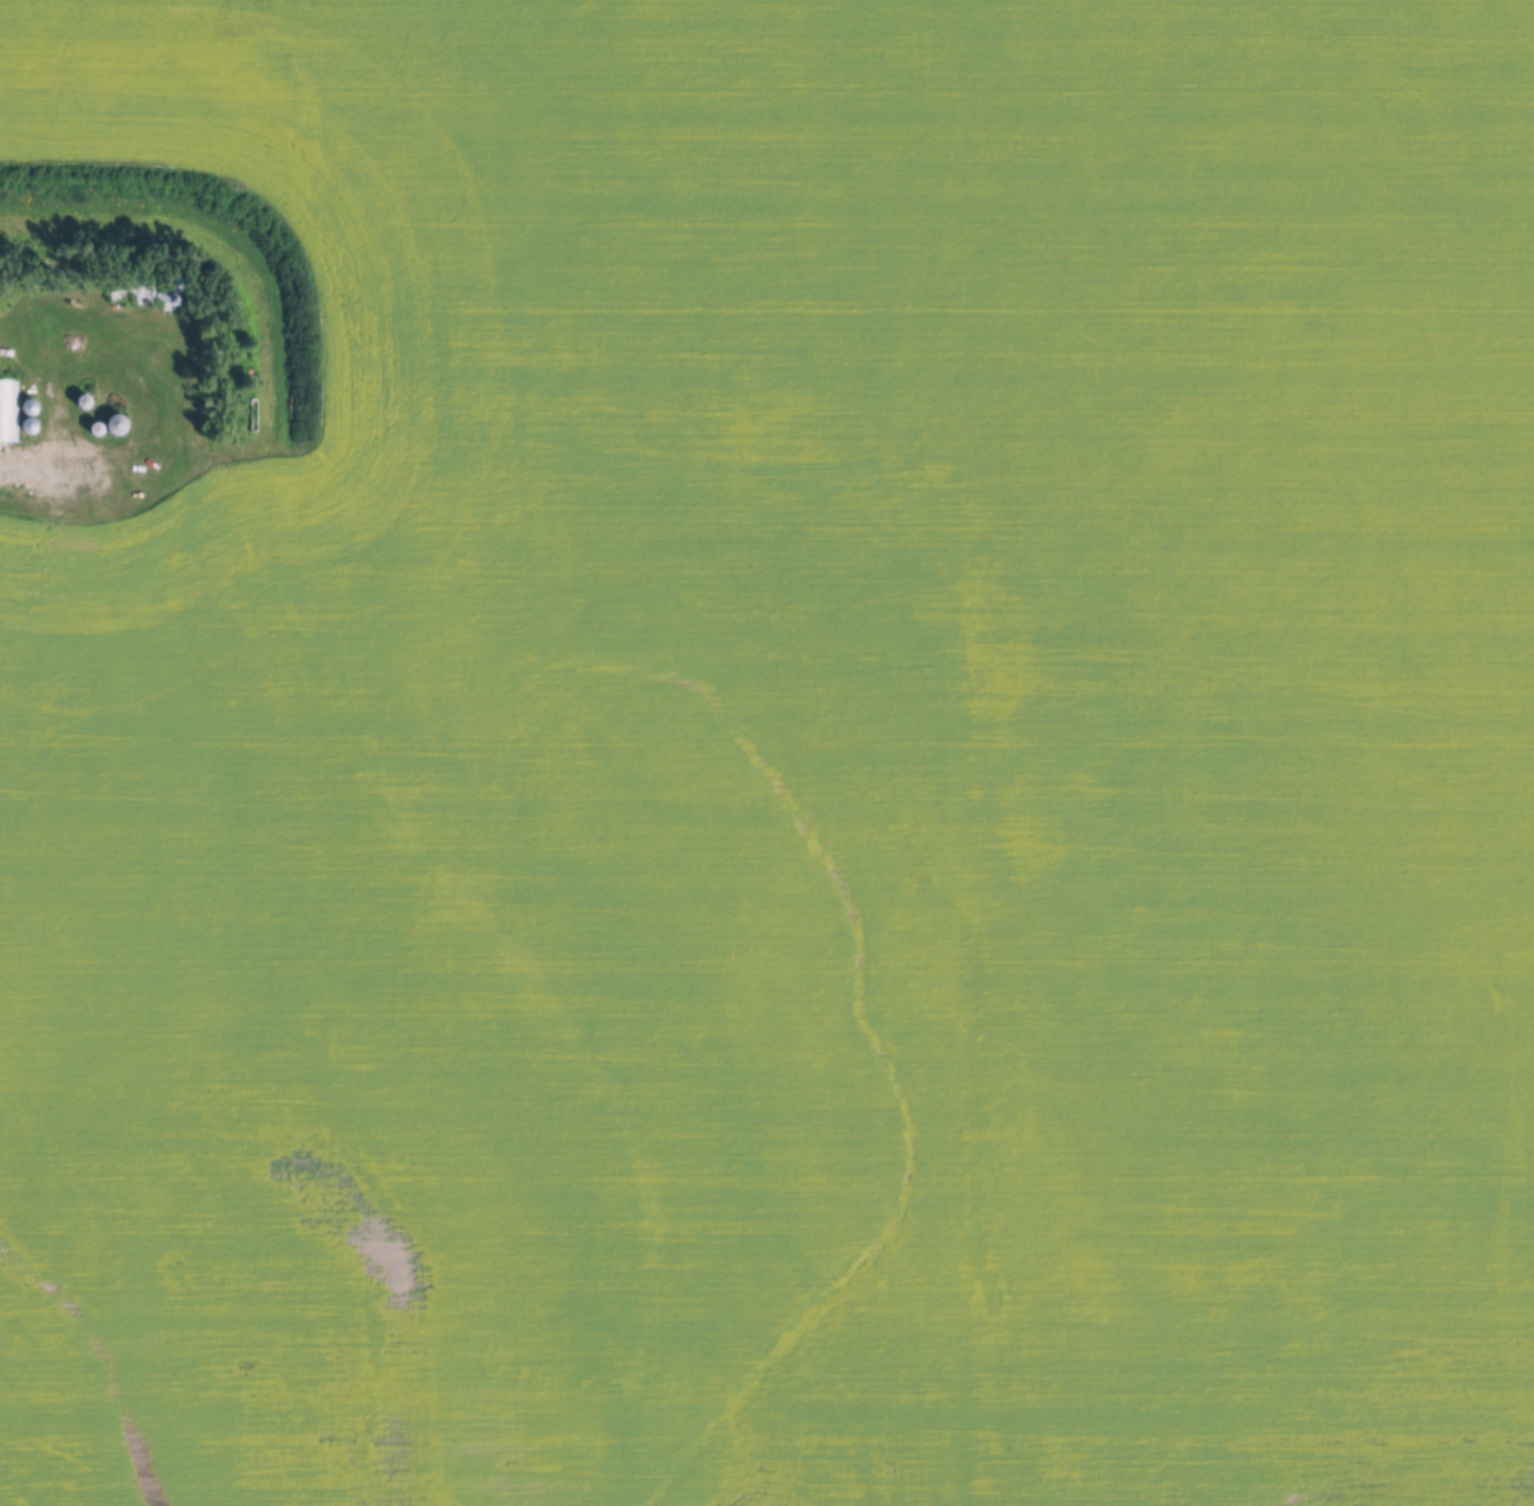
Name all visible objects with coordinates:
building: (8, 411)
road: (49, 465)

